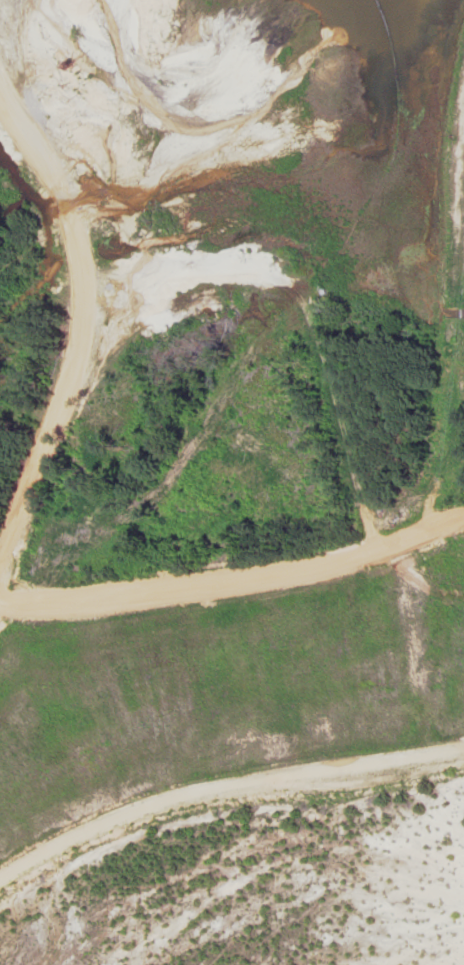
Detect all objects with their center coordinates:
road: (80, 327)
road: (238, 580)

